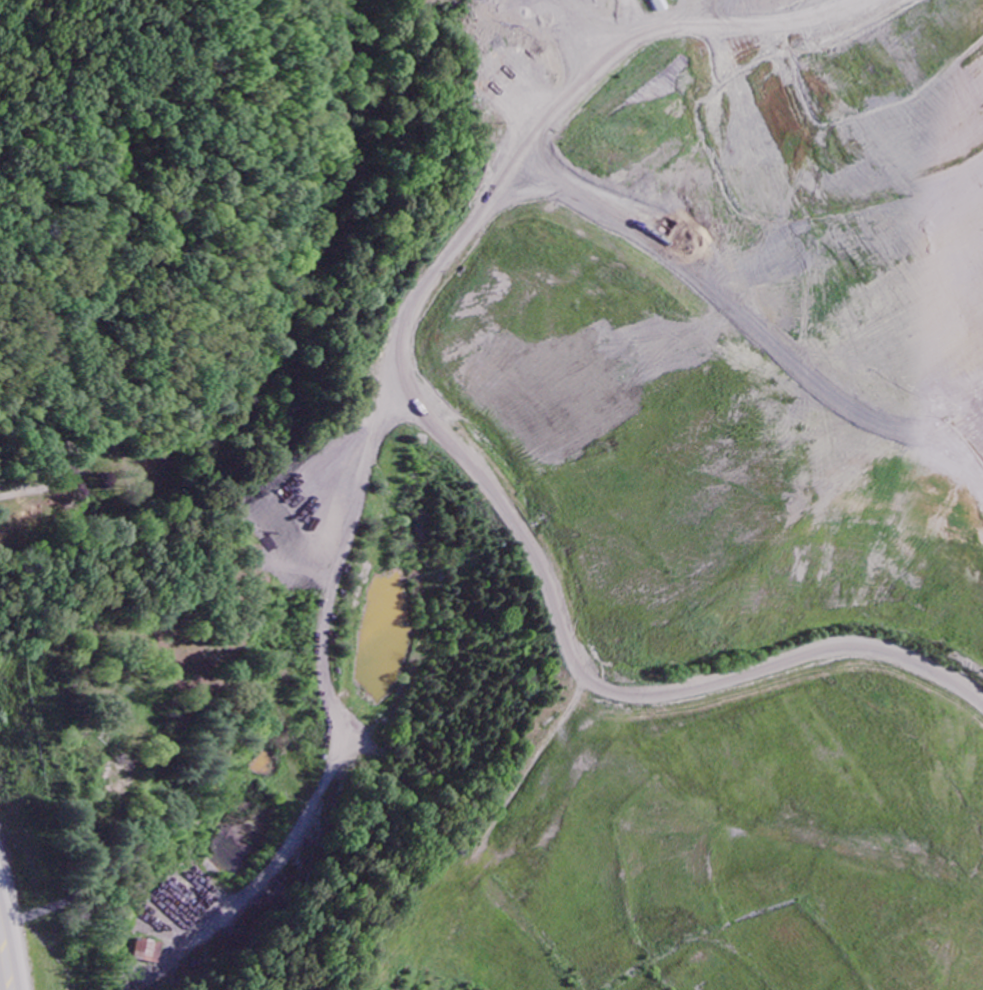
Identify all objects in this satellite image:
building: (656, 6)
road: (5, 9)
road: (733, 341)
road: (473, 496)
landfill: (674, 515)
road: (334, 717)
building: (150, 951)
road: (3, 969)

